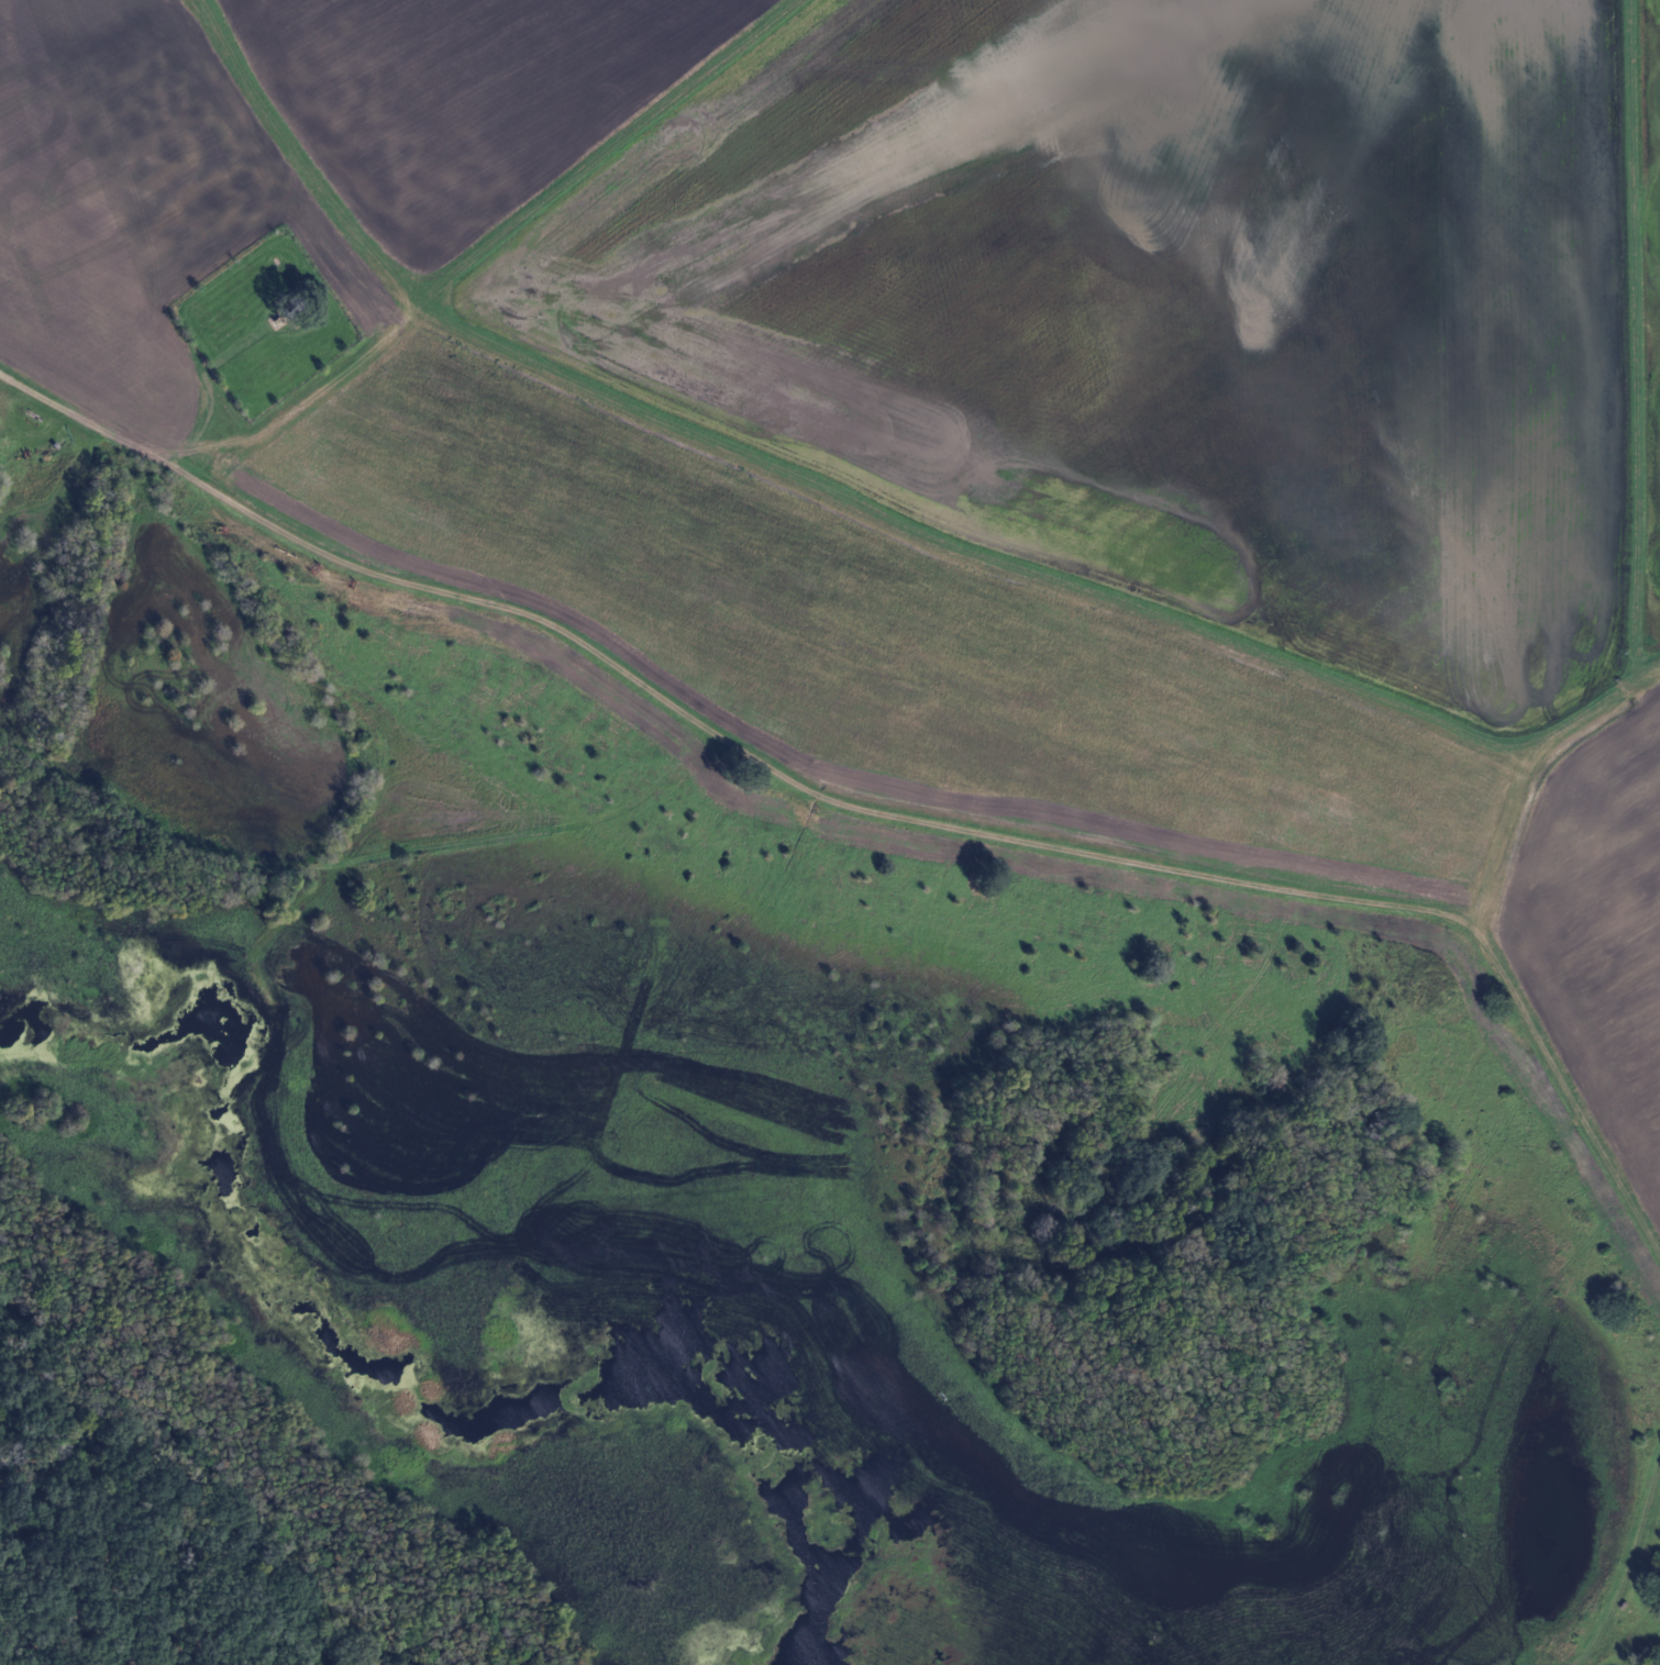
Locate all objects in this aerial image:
road: (874, 808)

